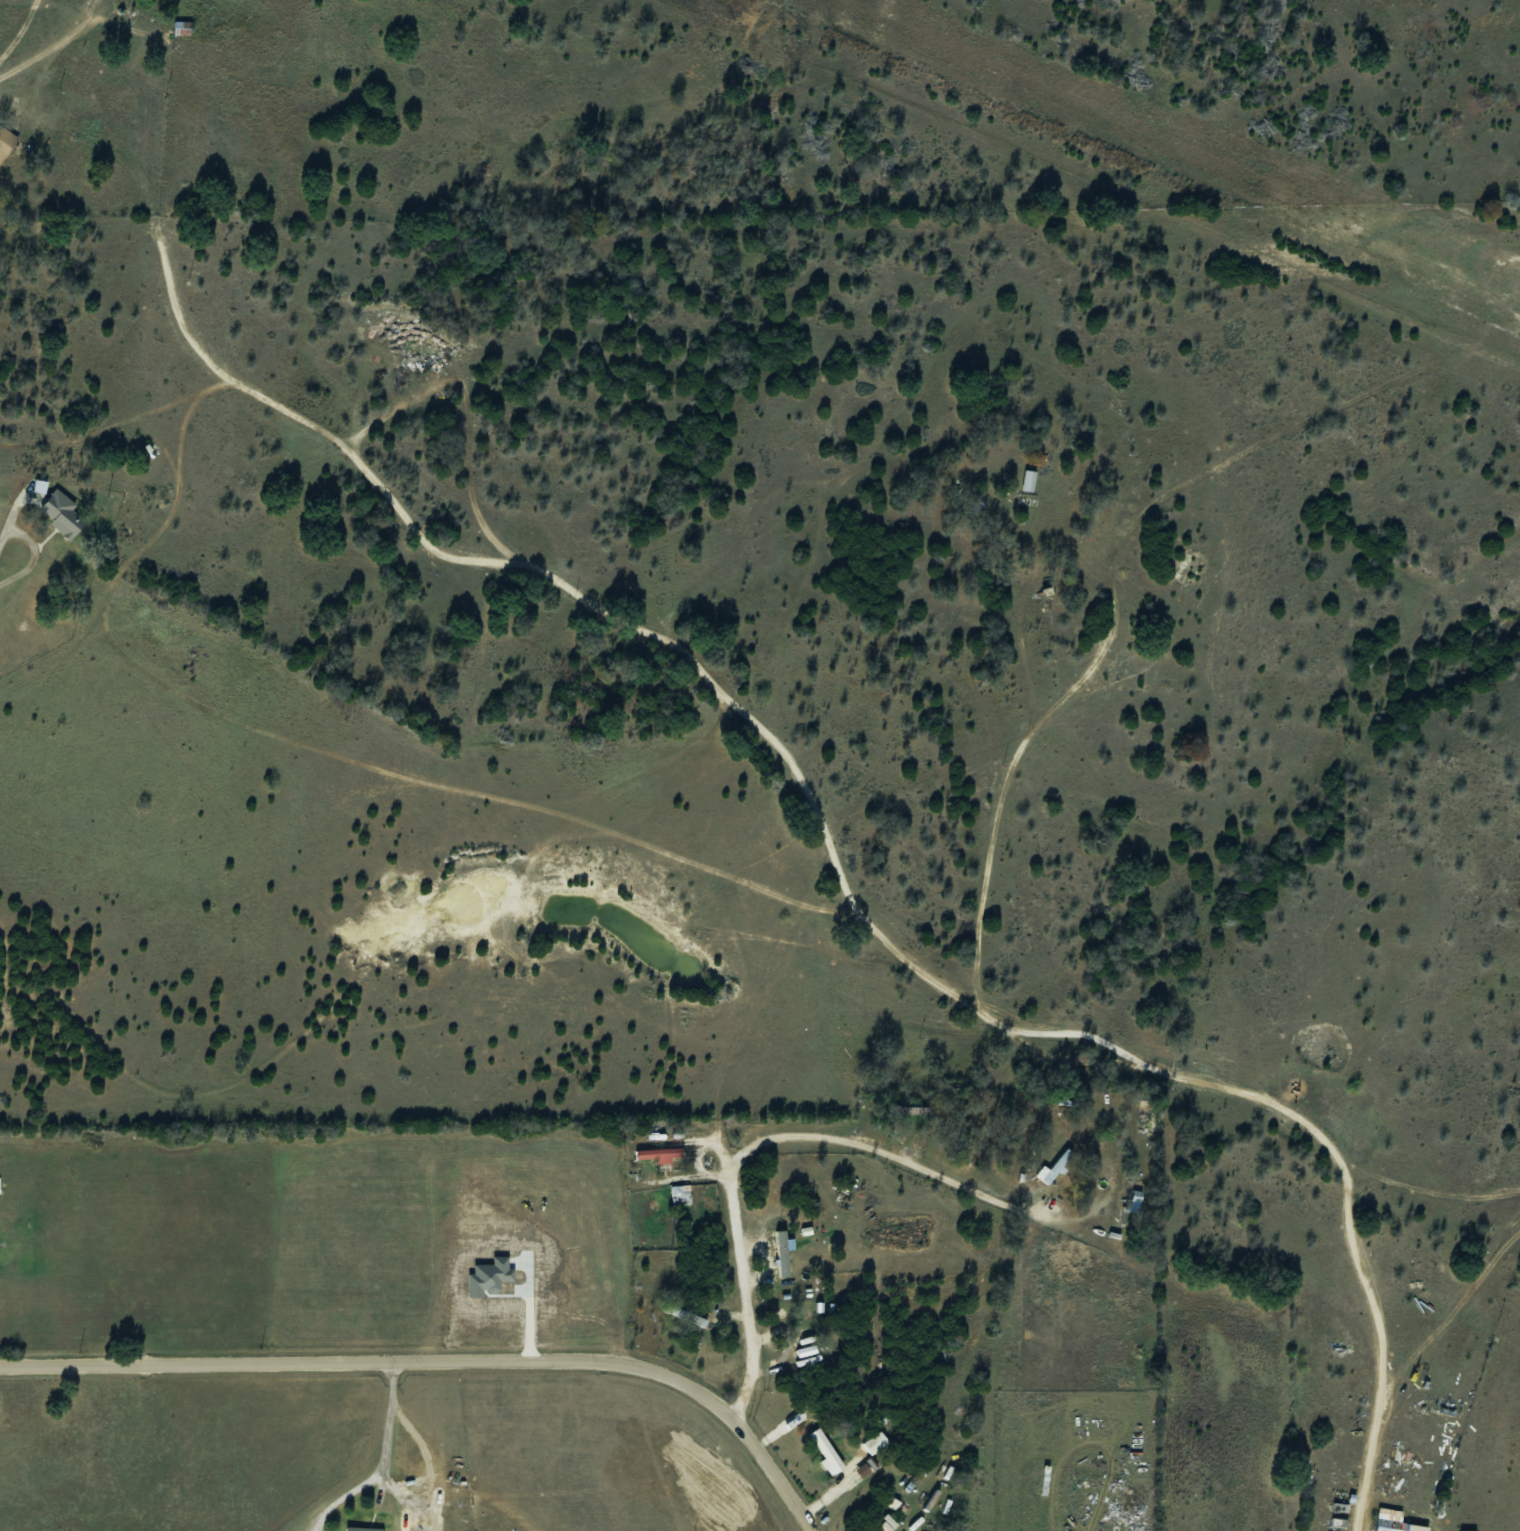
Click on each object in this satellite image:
building: (183, 29)
building: (395, 110)
building: (6, 142)
building: (1028, 481)
building: (61, 513)
road: (31, 553)
road: (751, 1149)
building: (657, 1153)
building: (1057, 1166)
building: (1137, 1198)
building: (787, 1256)
building: (685, 1315)
road: (443, 1372)
road: (393, 1431)
building: (827, 1449)
road: (824, 1496)
building: (1340, 1508)
building: (1339, 1521)
building: (1394, 1521)
building: (363, 1529)

